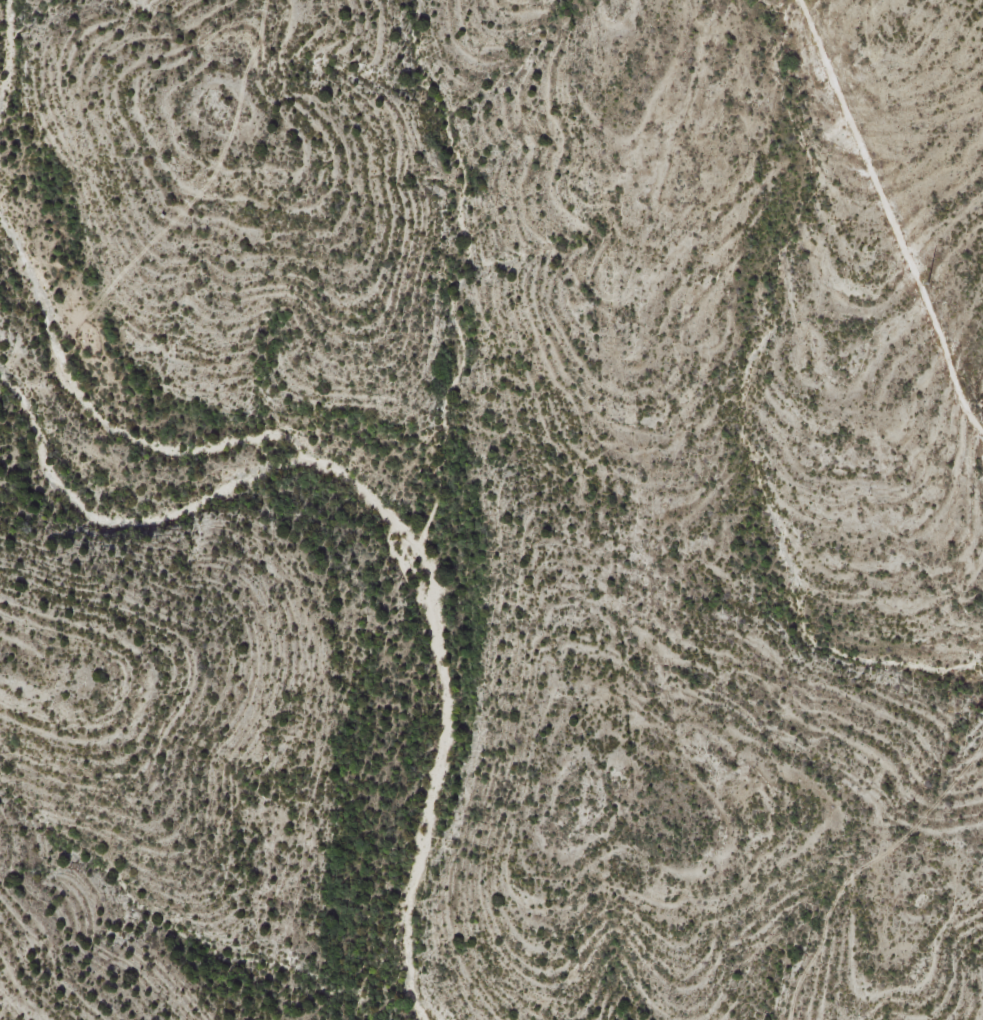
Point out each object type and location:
power tower: (931, 287)

